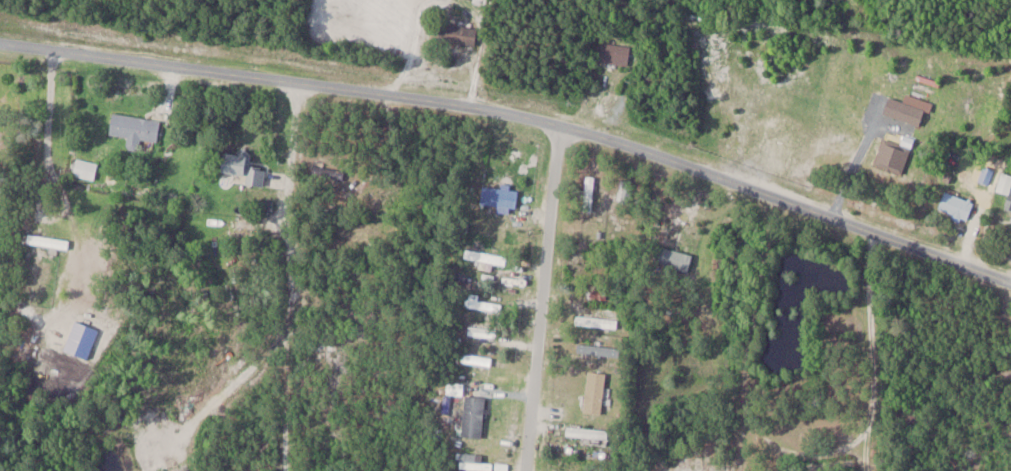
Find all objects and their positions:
building: (457, 33)
building: (613, 53)
road: (47, 114)
road: (517, 116)
building: (135, 128)
building: (785, 135)
building: (831, 157)
building: (243, 166)
building: (84, 168)
building: (1006, 188)
building: (625, 190)
building: (588, 193)
building: (376, 196)
building: (498, 196)
building: (956, 205)
building: (486, 257)
building: (672, 258)
building: (596, 293)
road: (543, 299)
building: (481, 303)
building: (596, 320)
building: (482, 331)
building: (601, 350)
building: (476, 359)
building: (594, 391)
building: (473, 416)
building: (586, 432)
building: (473, 461)

